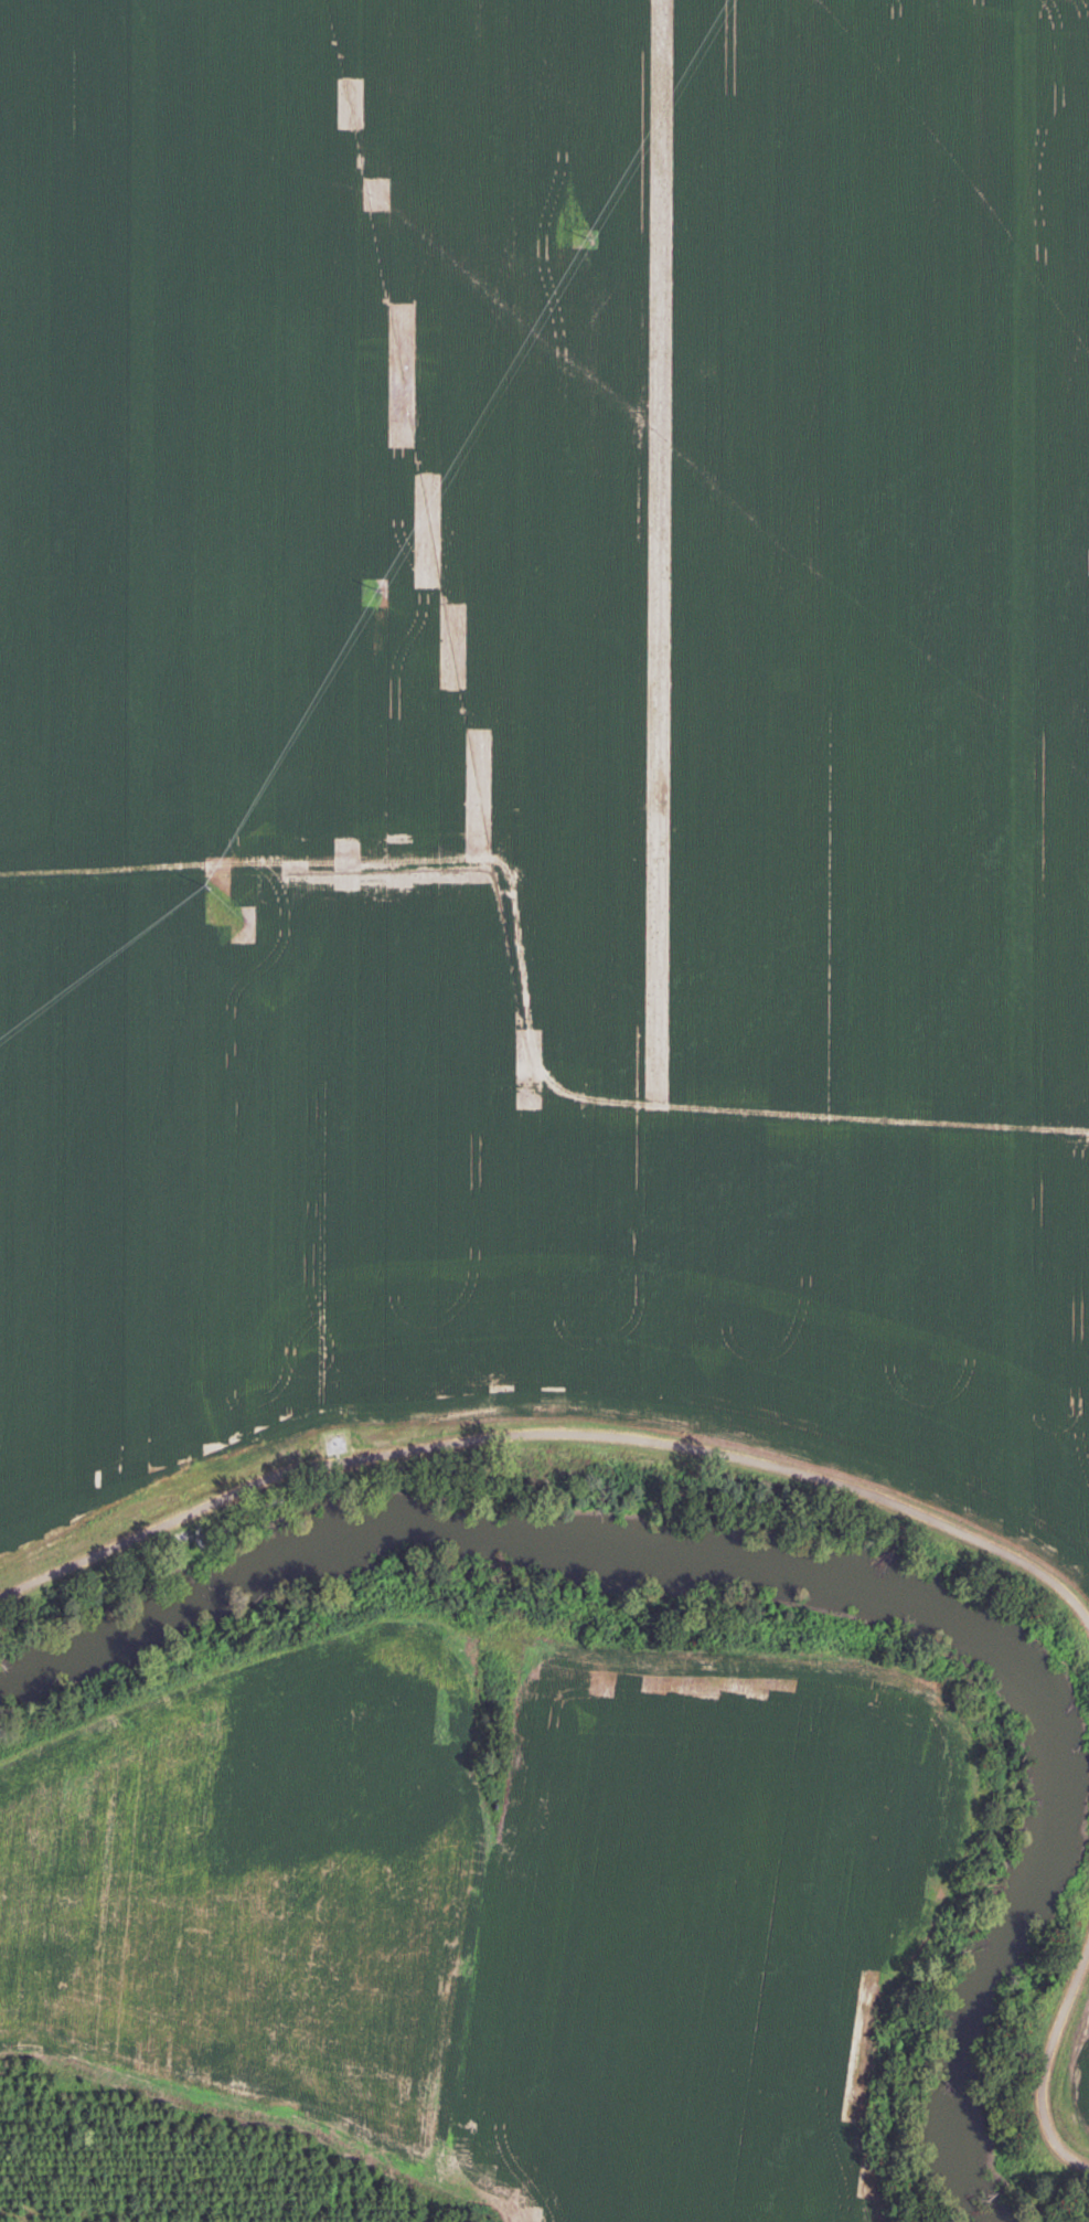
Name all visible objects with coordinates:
road: (524, 996)

